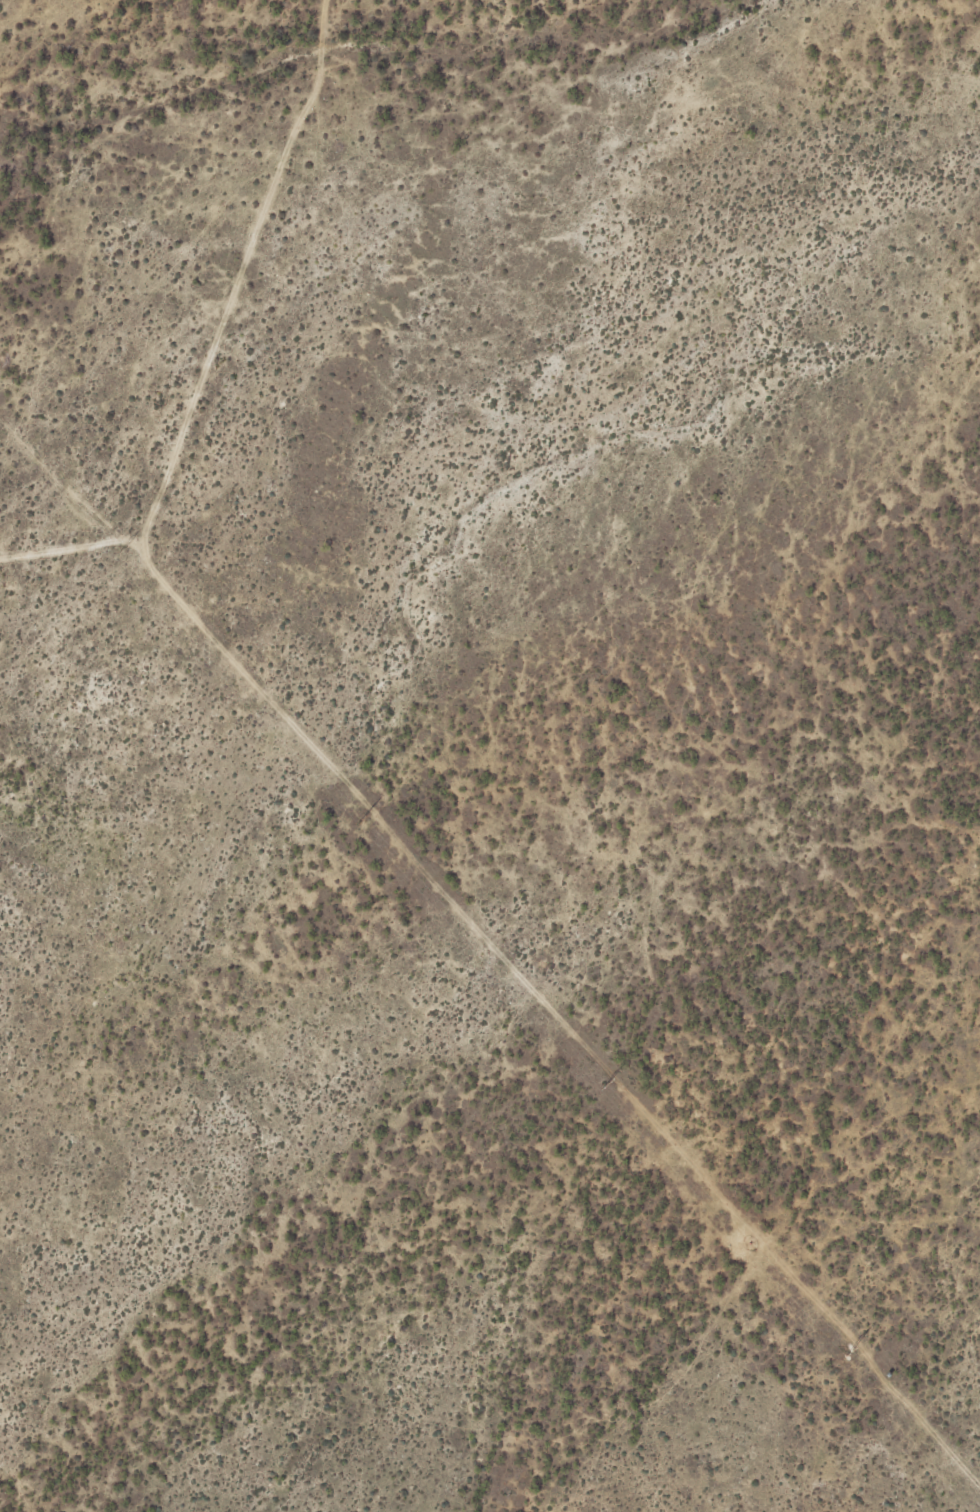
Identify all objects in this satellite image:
road: (529, 305)
road: (76, 545)
power tower: (118, 552)
road: (362, 799)
power tower: (360, 819)
power tower: (603, 1085)
power tower: (848, 1353)

